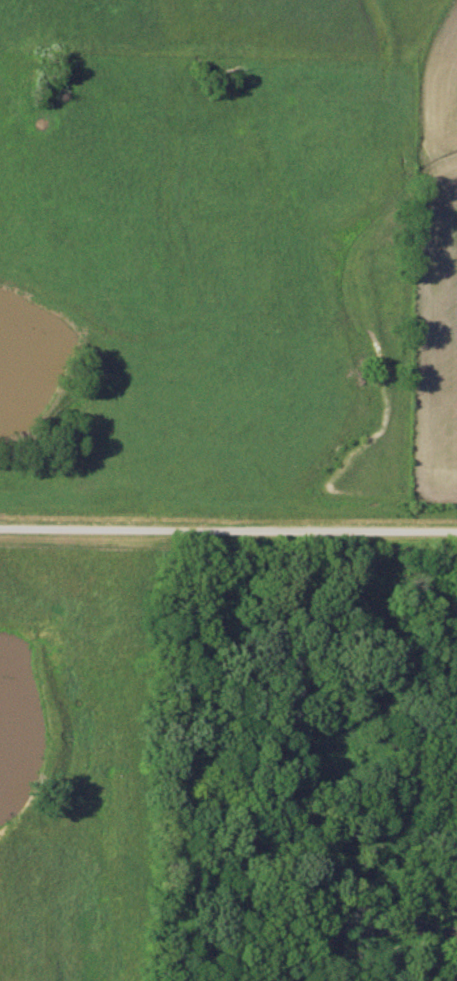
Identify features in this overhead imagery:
road: (228, 532)

